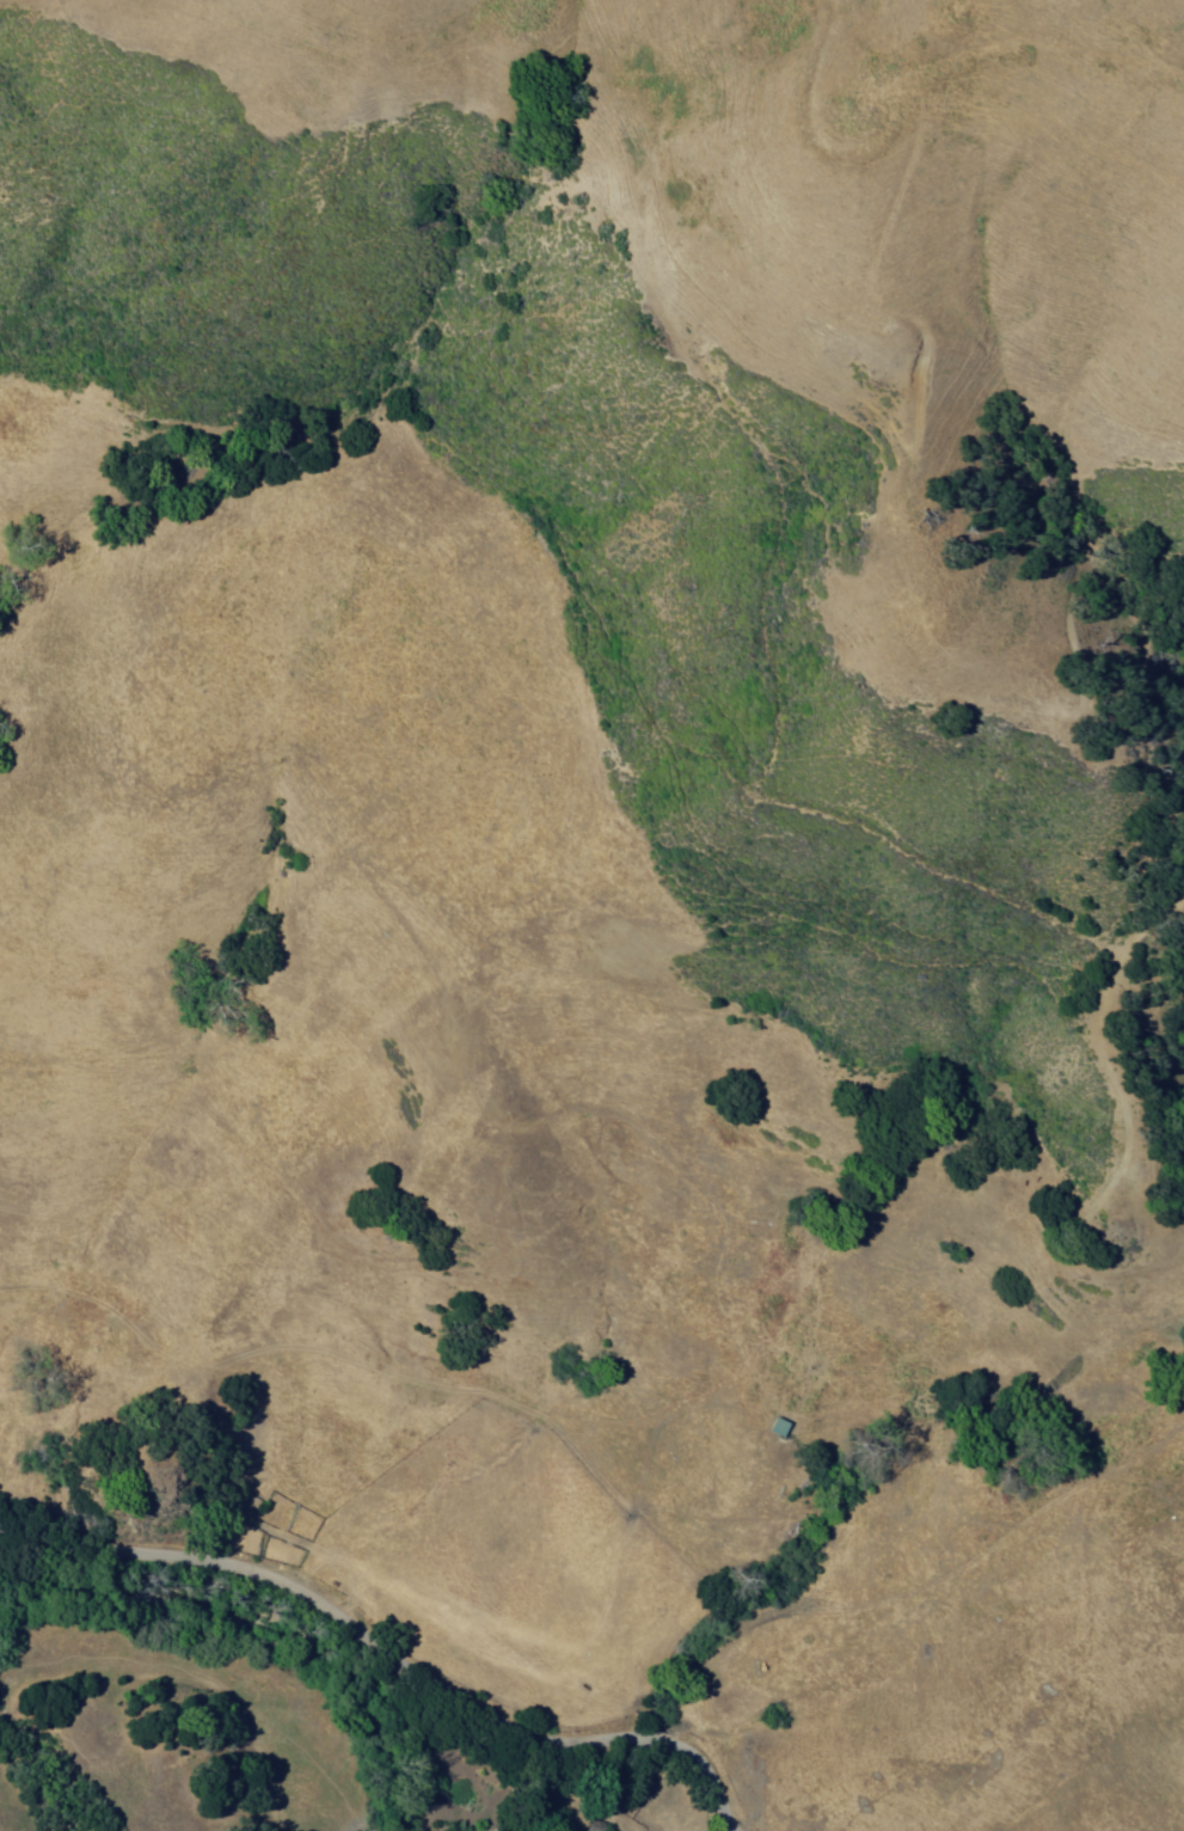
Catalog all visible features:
road: (921, 400)
road: (1125, 1121)
building: (780, 1427)
road: (909, 1592)
road: (385, 1655)

